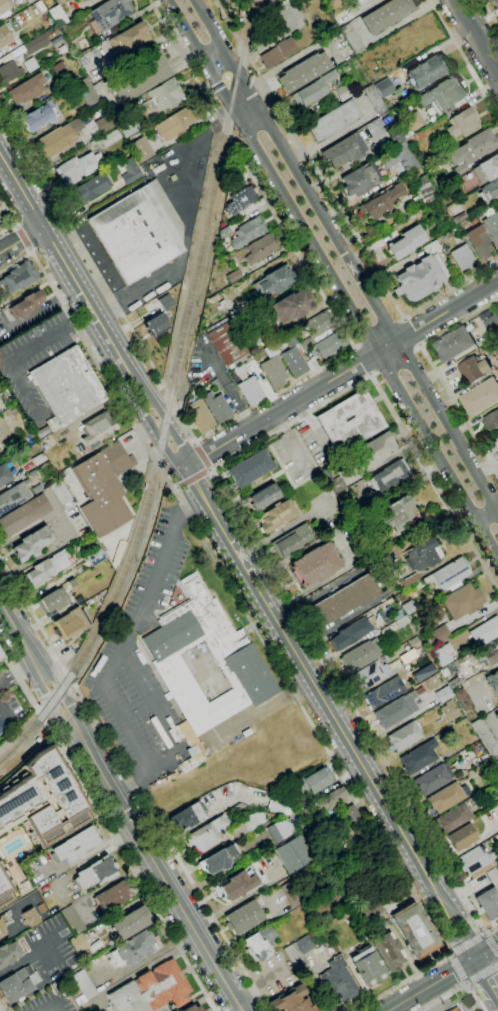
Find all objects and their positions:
building: (496, 2)
building: (3, 6)
building: (110, 13)
building: (387, 14)
road: (489, 14)
building: (57, 16)
road: (226, 19)
road: (476, 35)
building: (4, 36)
building: (351, 38)
building: (129, 39)
building: (37, 42)
building: (286, 47)
road: (244, 49)
road: (215, 56)
building: (271, 57)
road: (463, 58)
road: (184, 61)
building: (30, 65)
building: (304, 71)
building: (427, 71)
building: (8, 72)
building: (138, 77)
building: (384, 88)
building: (26, 89)
building: (313, 90)
building: (86, 92)
building: (342, 92)
building: (164, 93)
building: (442, 94)
building: (373, 99)
building: (37, 118)
road: (253, 121)
building: (333, 121)
building: (462, 122)
building: (104, 123)
building: (174, 123)
building: (409, 123)
building: (126, 127)
road: (226, 130)
building: (393, 134)
building: (419, 135)
building: (58, 138)
building: (109, 138)
building: (141, 149)
building: (471, 149)
building: (344, 150)
building: (399, 157)
building: (77, 168)
building: (486, 169)
building: (129, 171)
building: (360, 179)
building: (236, 182)
building: (89, 189)
road: (326, 189)
building: (425, 189)
building: (489, 190)
building: (239, 200)
building: (381, 201)
building: (459, 210)
road: (12, 219)
building: (461, 224)
road: (15, 227)
building: (492, 227)
building: (139, 231)
building: (248, 231)
road: (22, 237)
road: (20, 242)
building: (405, 242)
building: (480, 243)
building: (260, 249)
road: (30, 250)
road: (85, 254)
road: (346, 256)
building: (462, 257)
road: (68, 275)
building: (421, 275)
building: (19, 276)
building: (233, 276)
road: (332, 277)
building: (268, 284)
road: (450, 288)
building: (212, 299)
building: (165, 302)
building: (26, 304)
building: (290, 306)
road: (403, 318)
building: (155, 324)
building: (318, 324)
building: (492, 325)
building: (246, 331)
road: (410, 331)
building: (289, 338)
road: (84, 341)
road: (350, 341)
building: (496, 341)
building: (225, 343)
building: (306, 343)
road: (418, 344)
building: (453, 344)
building: (329, 345)
road: (354, 347)
flagpole: (84, 353)
building: (87, 360)
road: (361, 360)
building: (294, 362)
flagpole: (92, 368)
building: (239, 369)
building: (473, 369)
building: (273, 371)
road: (435, 372)
road: (342, 373)
road: (369, 374)
building: (216, 385)
building: (67, 387)
building: (250, 390)
road: (233, 394)
building: (480, 397)
railway: (171, 398)
building: (5, 399)
building: (217, 406)
building: (8, 415)
building: (200, 415)
building: (349, 421)
building: (491, 422)
road: (167, 426)
building: (97, 430)
building: (42, 432)
road: (157, 434)
road: (194, 441)
parking lot: (315, 442)
building: (496, 442)
building: (0, 448)
building: (375, 449)
road: (201, 456)
parking lot: (295, 458)
building: (38, 459)
building: (249, 468)
road: (210, 469)
building: (4, 475)
building: (389, 475)
road: (193, 477)
road: (434, 482)
building: (337, 485)
road: (175, 487)
building: (103, 488)
building: (61, 495)
building: (12, 496)
building: (263, 496)
road: (188, 504)
building: (396, 513)
road: (487, 515)
building: (23, 516)
building: (275, 516)
building: (291, 541)
building: (31, 544)
building: (422, 554)
building: (94, 556)
building: (316, 564)
building: (46, 568)
building: (448, 575)
building: (409, 581)
building: (71, 583)
building: (418, 585)
building: (344, 599)
building: (53, 600)
road: (289, 601)
building: (462, 601)
road: (147, 606)
building: (408, 607)
building: (397, 615)
road: (35, 617)
flagpole: (239, 620)
building: (401, 622)
building: (72, 623)
building: (355, 629)
road: (17, 630)
building: (485, 631)
building: (440, 633)
flagpole: (250, 638)
building: (490, 653)
building: (1, 655)
building: (360, 655)
building: (0, 658)
road: (17, 670)
building: (424, 673)
building: (247, 675)
building: (368, 676)
road: (21, 680)
building: (454, 682)
building: (493, 682)
building: (385, 692)
building: (443, 694)
road: (63, 695)
building: (462, 699)
road: (48, 703)
building: (399, 708)
building: (449, 710)
road: (332, 712)
building: (496, 716)
building: (1, 726)
building: (404, 736)
building: (485, 737)
road: (331, 755)
building: (418, 757)
road: (174, 758)
building: (162, 780)
building: (431, 780)
building: (313, 781)
building: (445, 798)
building: (331, 800)
building: (497, 803)
building: (280, 805)
building: (233, 810)
building: (34, 815)
building: (187, 816)
building: (352, 817)
building: (454, 818)
building: (247, 824)
building: (281, 830)
building: (206, 834)
building: (461, 837)
road: (168, 844)
building: (74, 845)
road: (89, 850)
building: (294, 854)
building: (218, 859)
building: (476, 862)
road: (130, 863)
building: (95, 872)
road: (160, 874)
building: (492, 877)
building: (234, 886)
road: (458, 893)
building: (112, 896)
road: (235, 901)
building: (386, 903)
building: (488, 903)
building: (367, 909)
road: (14, 915)
building: (29, 917)
building: (243, 917)
road: (476, 918)
building: (72, 919)
building: (130, 922)
building: (2, 923)
building: (414, 931)
road: (484, 933)
building: (260, 942)
building: (78, 943)
road: (467, 944)
road: (491, 944)
building: (132, 949)
building: (387, 951)
building: (8, 952)
building: (298, 952)
road: (450, 953)
road: (28, 956)
traffic signals: (477, 958)
road: (148, 965)
building: (367, 966)
road: (458, 968)
road: (481, 971)
road: (487, 975)
road: (442, 978)
building: (337, 980)
building: (18, 983)
road: (466, 983)
building: (83, 987)
building: (151, 990)
road: (458, 990)
building: (291, 1001)
parking lot: (62, 1006)
road: (1, 1008)
building: (192, 1008)
road: (398, 1008)
road: (44, 1009)
road: (51, 1009)
building: (454, 1009)

